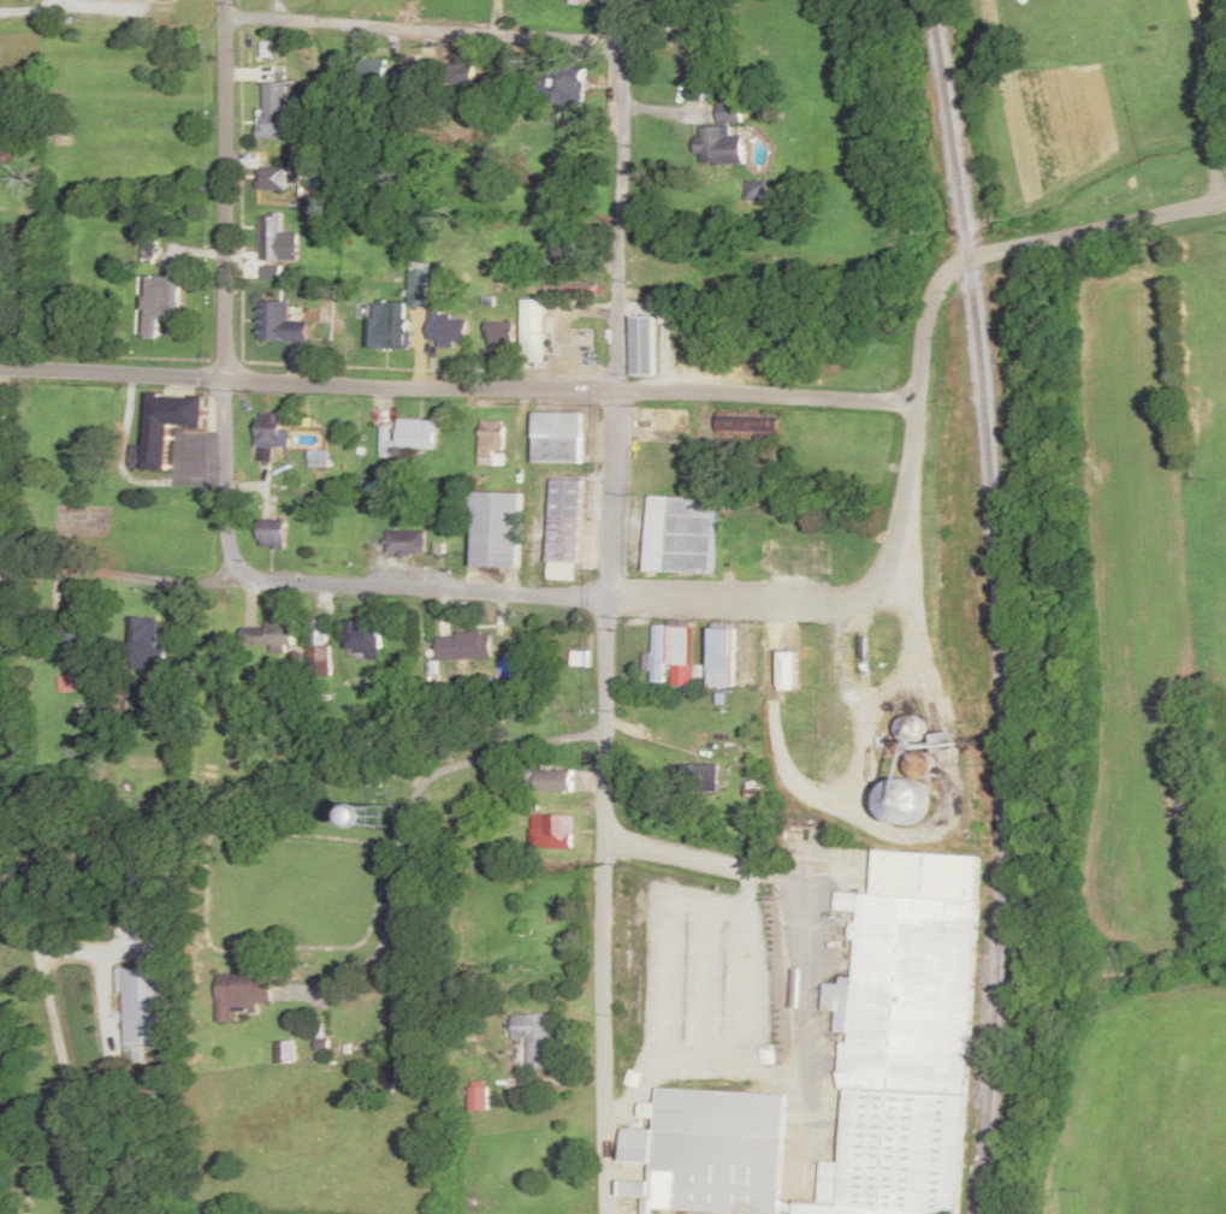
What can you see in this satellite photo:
road: (419, 29)
building: (373, 71)
building: (463, 75)
building: (562, 88)
building: (274, 111)
building: (722, 128)
building: (272, 178)
building: (276, 241)
road: (1019, 245)
building: (562, 254)
road: (220, 290)
building: (162, 296)
building: (0, 302)
building: (396, 315)
building: (279, 325)
building: (445, 330)
building: (533, 331)
building: (499, 333)
building: (641, 347)
building: (770, 354)
road: (457, 385)
building: (1, 420)
building: (164, 427)
building: (271, 432)
building: (407, 437)
building: (557, 438)
building: (490, 442)
building: (318, 458)
building: (565, 521)
building: (496, 531)
building: (270, 533)
building: (681, 535)
building: (404, 543)
road: (532, 592)
railway: (995, 604)
road: (608, 627)
building: (4, 632)
building: (71, 635)
building: (144, 645)
building: (363, 645)
building: (463, 645)
building: (680, 645)
building: (659, 653)
building: (724, 656)
building: (789, 669)
road: (467, 722)
building: (911, 729)
building: (552, 780)
building: (904, 800)
building: (551, 831)
road: (717, 849)
building: (239, 991)
building: (141, 1012)
building: (905, 1036)
building: (533, 1038)
building: (284, 1052)
building: (478, 1096)
building: (710, 1151)

